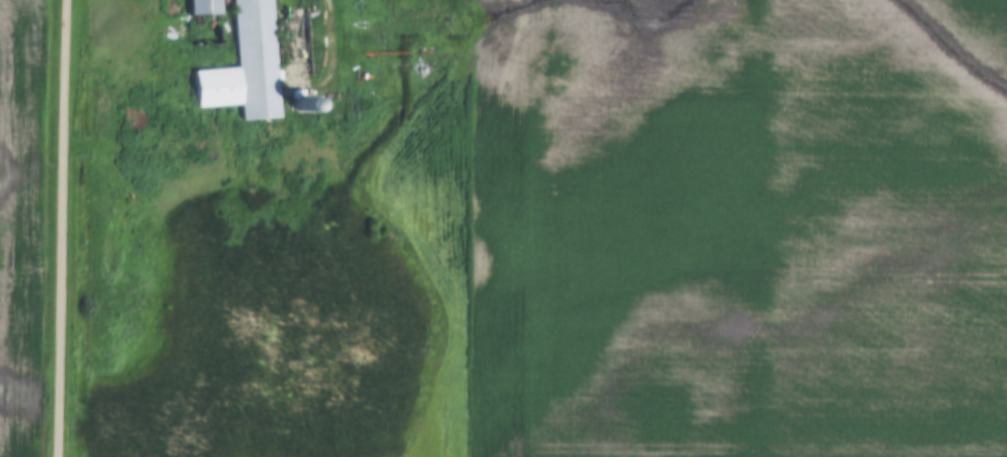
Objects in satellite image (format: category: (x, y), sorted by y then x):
building: (203, 6)
building: (245, 68)
building: (301, 105)
silo: (301, 105)
road: (66, 228)

